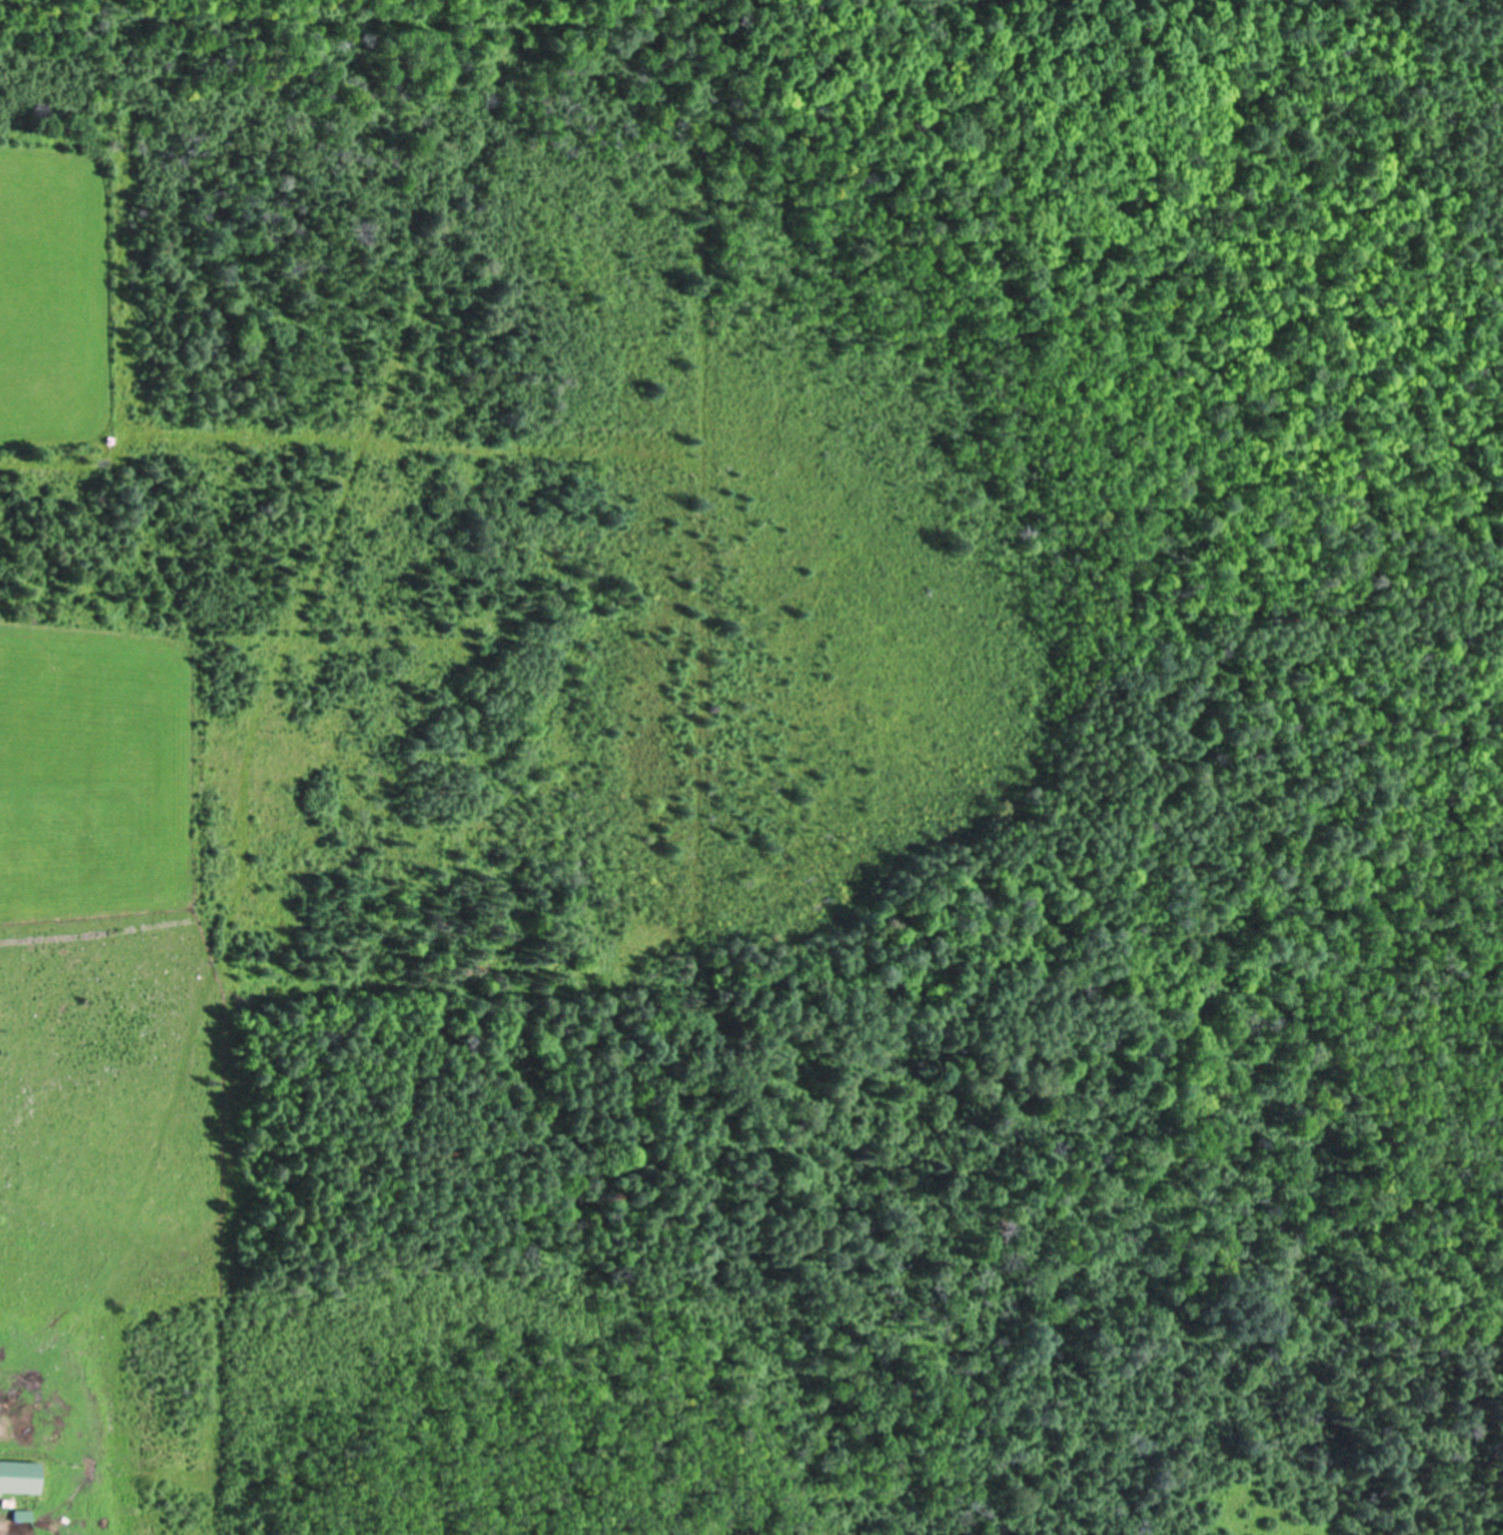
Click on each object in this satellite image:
building: (22, 1476)

